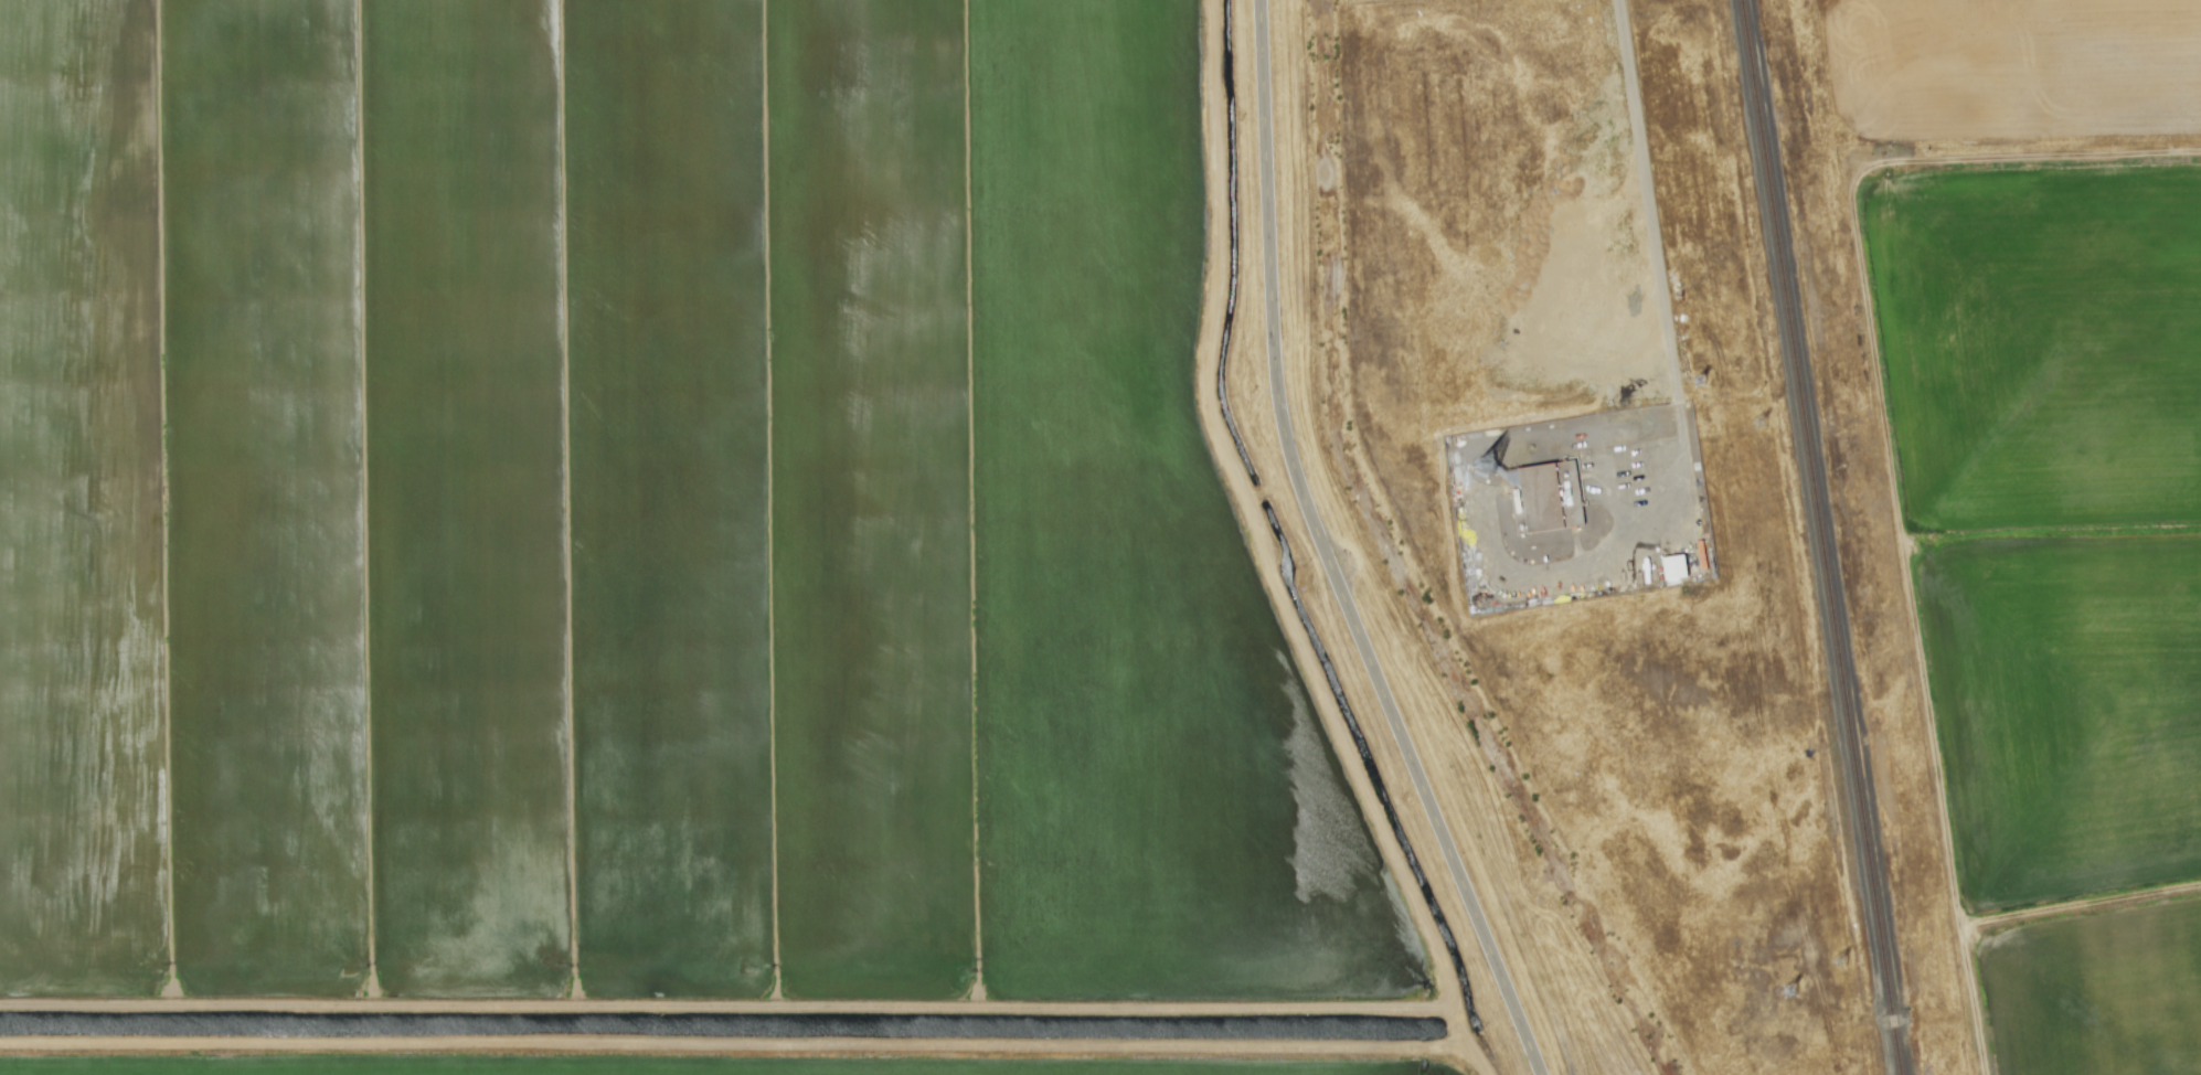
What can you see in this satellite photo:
road: (1677, 392)
power tower: (1762, 424)
power tower: (1708, 433)
building: (1543, 485)
building: (1573, 518)
railway: (1826, 537)
road: (1318, 553)
building: (1672, 566)
crop: (2017, 575)
power tower: (1843, 964)
power tower: (1790, 970)

